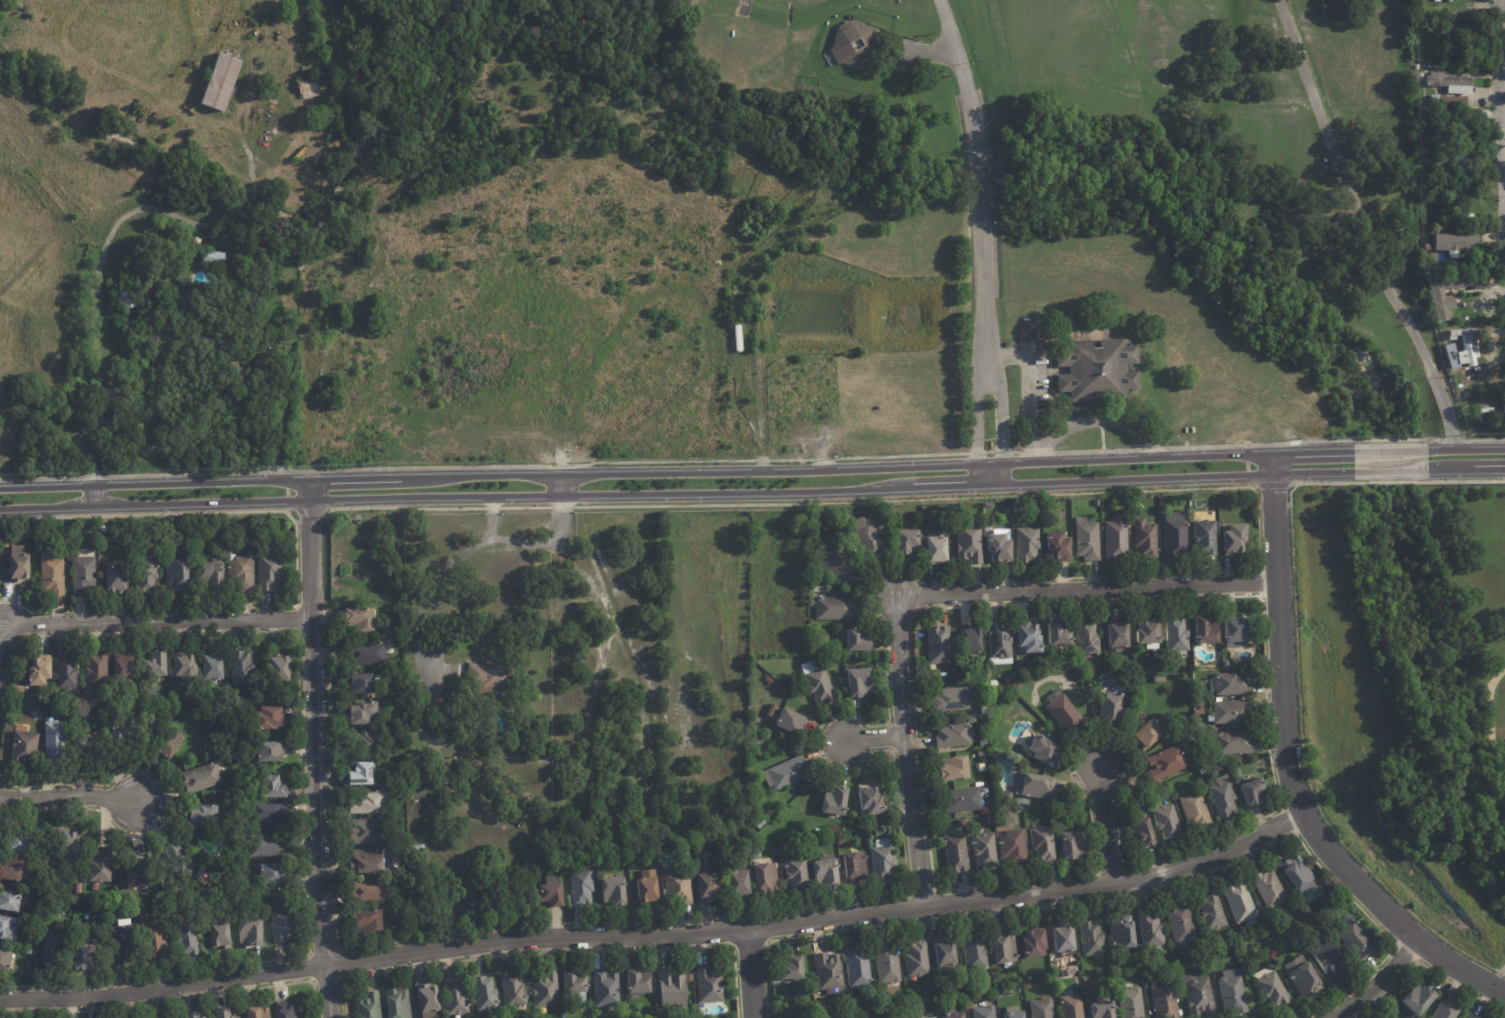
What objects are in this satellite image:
building: (1450, 34)
building: (844, 42)
building: (1465, 52)
building: (1415, 67)
road: (1503, 73)
building: (1416, 76)
building: (1414, 81)
building: (220, 83)
building: (1450, 83)
building: (1413, 86)
building: (310, 87)
road: (1502, 87)
building: (283, 89)
building: (1443, 100)
building: (1441, 120)
building: (277, 126)
building: (1459, 151)
road: (980, 175)
building: (285, 193)
building: (1456, 202)
road: (1359, 228)
building: (197, 241)
building: (1460, 248)
building: (215, 257)
building: (113, 289)
building: (128, 298)
building: (1434, 298)
building: (1451, 321)
building: (1452, 335)
building: (189, 340)
building: (1467, 353)
building: (1452, 358)
building: (265, 363)
building: (1096, 372)
road: (1027, 381)
building: (1493, 403)
building: (1482, 410)
road: (1000, 418)
building: (1490, 418)
road: (974, 419)
road: (1101, 421)
building: (1186, 430)
building: (1192, 430)
building: (121, 435)
road: (1466, 449)
road: (1391, 450)
road: (1038, 455)
road: (677, 471)
road: (1466, 472)
road: (1391, 473)
road: (562, 485)
road: (677, 493)
road: (93, 497)
building: (1164, 500)
building: (1096, 503)
building: (1019, 509)
building: (931, 510)
building: (884, 515)
building: (103, 528)
building: (1177, 535)
building: (1206, 537)
building: (869, 538)
building: (1089, 538)
building: (1118, 538)
building: (1147, 538)
building: (907, 540)
building: (972, 540)
building: (1236, 540)
building: (1029, 545)
building: (1058, 546)
building: (33, 548)
building: (1000, 548)
building: (937, 550)
building: (857, 553)
building: (19, 564)
building: (841, 569)
building: (270, 570)
building: (243, 572)
building: (85, 573)
building: (53, 574)
building: (178, 575)
building: (214, 575)
building: (147, 576)
building: (817, 578)
building: (116, 579)
road: (1085, 589)
building: (836, 609)
building: (363, 619)
road: (155, 621)
park: (1464, 623)
building: (1203, 629)
building: (1146, 631)
building: (1234, 632)
building: (388, 635)
building: (1055, 635)
building: (1175, 635)
building: (1116, 636)
building: (1024, 638)
building: (1086, 638)
building: (969, 640)
building: (858, 641)
building: (998, 641)
building: (936, 645)
building: (369, 653)
building: (861, 656)
building: (1062, 656)
building: (1225, 663)
building: (158, 666)
building: (187, 667)
building: (215, 667)
building: (1157, 668)
building: (243, 669)
building: (282, 669)
building: (126, 670)
building: (41, 671)
building: (68, 673)
building: (97, 673)
building: (489, 676)
building: (1157, 679)
building: (768, 681)
building: (842, 681)
building: (365, 683)
building: (818, 683)
building: (859, 683)
building: (1201, 683)
building: (1229, 684)
building: (23, 686)
building: (177, 686)
building: (1015, 687)
building: (1012, 698)
building: (950, 699)
building: (169, 700)
building: (180, 706)
building: (1129, 706)
building: (981, 709)
building: (1110, 709)
building: (774, 711)
building: (1229, 712)
building: (365, 713)
building: (1063, 714)
road: (1490, 716)
building: (268, 718)
building: (1201, 718)
building: (969, 720)
building: (790, 721)
building: (123, 731)
building: (1146, 733)
building: (951, 736)
building: (55, 737)
road: (872, 738)
building: (370, 741)
building: (169, 742)
building: (1230, 742)
building: (983, 743)
building: (85, 745)
road: (311, 748)
building: (26, 749)
road: (903, 751)
building: (1040, 751)
building: (272, 752)
building: (982, 754)
building: (1163, 763)
building: (951, 769)
road: (1287, 770)
building: (1201, 772)
building: (359, 773)
building: (788, 773)
building: (204, 778)
building: (1032, 786)
building: (275, 787)
building: (1249, 790)
road: (67, 794)
building: (419, 794)
building: (529, 796)
building: (1221, 797)
building: (1138, 799)
building: (958, 800)
building: (836, 801)
building: (872, 801)
building: (1021, 802)
building: (373, 803)
building: (657, 807)
building: (1192, 810)
building: (1056, 811)
building: (272, 816)
building: (205, 817)
building: (968, 822)
building: (1165, 822)
building: (959, 823)
building: (762, 825)
road: (1104, 826)
building: (368, 832)
building: (1141, 832)
building: (683, 843)
building: (1042, 844)
building: (1068, 844)
building: (20, 845)
building: (268, 846)
building: (71, 847)
building: (1011, 847)
building: (983, 849)
building: (420, 850)
building: (954, 854)
building: (687, 856)
building: (179, 860)
building: (885, 861)
building: (367, 862)
building: (102, 866)
building: (855, 868)
building: (14, 872)
building: (828, 873)
building: (121, 874)
building: (138, 875)
building: (798, 875)
building: (1294, 875)
building: (275, 876)
building: (766, 880)
building: (743, 884)
building: (584, 887)
building: (79, 888)
building: (648, 888)
building: (680, 888)
building: (708, 889)
building: (1267, 890)
building: (552, 891)
building: (371, 892)
building: (616, 892)
building: (79, 900)
building: (10, 901)
building: (1238, 904)
building: (1209, 913)
building: (369, 922)
building: (1179, 924)
building: (285, 925)
building: (9, 929)
building: (252, 932)
building: (1121, 932)
building: (1149, 933)
building: (221, 935)
road: (657, 935)
building: (188, 938)
building: (154, 939)
building: (1090, 939)
building: (1354, 939)
building: (1061, 940)
building: (1032, 944)
building: (121, 945)
building: (53, 947)
building: (1000, 949)
building: (29, 953)
building: (942, 953)
building: (973, 953)
building: (88, 956)
building: (915, 959)
building: (1328, 960)
building: (6, 961)
building: (885, 964)
park: (1502, 966)
building: (856, 967)
road: (1502, 967)
building: (790, 969)
building: (828, 972)
road: (751, 973)
building: (1303, 977)
building: (1104, 978)
building: (637, 981)
road: (1373, 983)
building: (712, 984)
building: (575, 985)
building: (959, 985)
building: (1029, 986)
building: (607, 987)
building: (674, 987)
building: (1268, 987)
building: (548, 988)
building: (966, 988)
building: (516, 990)
building: (487, 993)
building: (1230, 993)
building: (456, 996)
building: (1196, 996)
building: (1414, 998)
building: (428, 1000)
building: (765, 1000)
building: (1163, 1001)
building: (398, 1002)
building: (911, 1003)
building: (1129, 1003)
building: (369, 1005)
building: (1069, 1007)
building: (1039, 1008)
building: (1101, 1010)
building: (1445, 1010)
building: (982, 1012)
building: (258, 1013)
building: (290, 1013)
building: (950, 1013)
building: (224, 1015)
building: (1009, 1015)
building: (1471, 1016)
building: (193, 1017)
building: (863, 1017)

